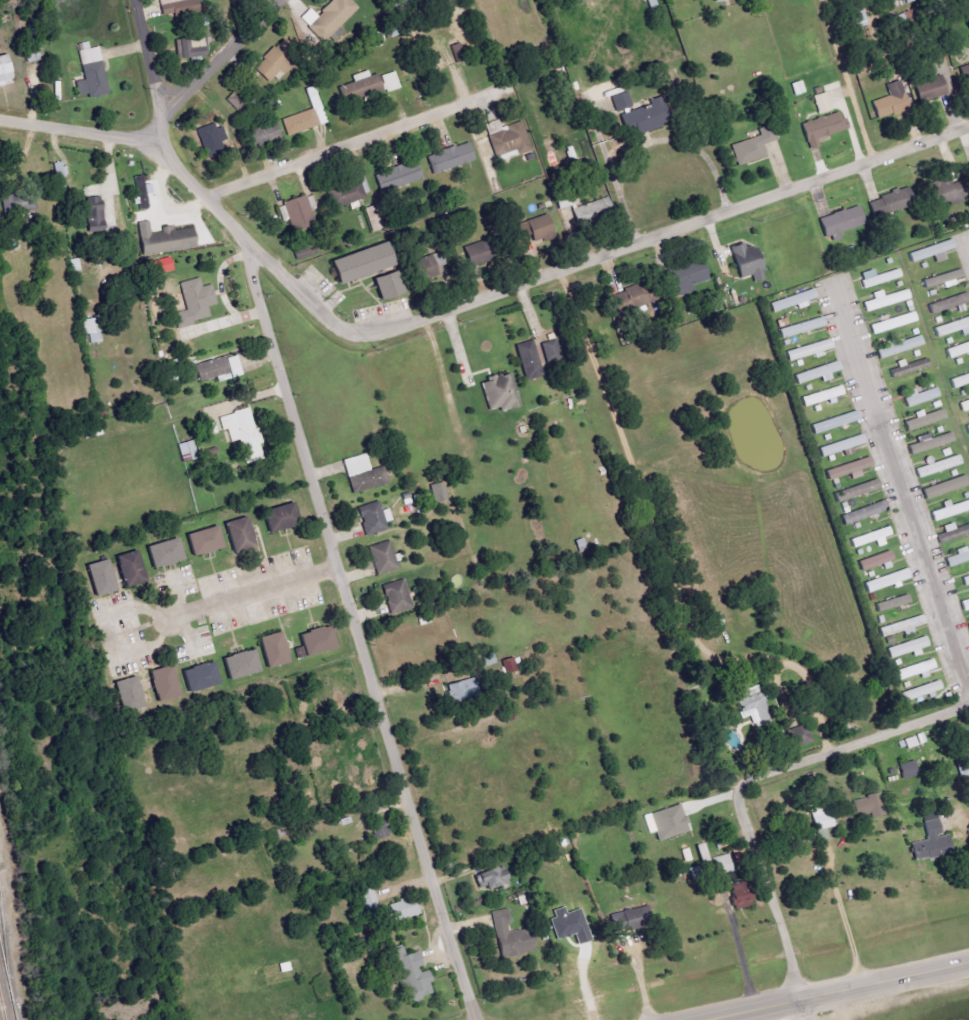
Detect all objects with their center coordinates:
building: (718, 0)
building: (651, 3)
building: (178, 7)
building: (857, 17)
building: (329, 18)
building: (336, 36)
building: (193, 48)
road: (221, 58)
building: (429, 59)
building: (273, 65)
building: (5, 69)
building: (965, 72)
road: (150, 74)
building: (90, 76)
building: (391, 81)
road: (846, 81)
building: (928, 86)
building: (360, 88)
building: (797, 88)
building: (621, 101)
building: (890, 101)
building: (822, 103)
building: (644, 119)
building: (298, 125)
building: (822, 128)
road: (77, 130)
building: (264, 135)
building: (211, 136)
building: (508, 140)
road: (647, 140)
road: (354, 143)
building: (753, 146)
building: (450, 160)
building: (60, 174)
building: (398, 176)
building: (350, 190)
building: (942, 192)
building: (142, 193)
building: (888, 198)
building: (18, 203)
building: (591, 210)
building: (296, 213)
building: (94, 215)
building: (839, 224)
building: (532, 228)
building: (164, 241)
building: (933, 252)
building: (302, 253)
building: (477, 254)
road: (590, 257)
building: (746, 263)
building: (162, 266)
building: (359, 268)
building: (425, 269)
building: (879, 277)
building: (944, 279)
building: (683, 281)
building: (387, 290)
building: (630, 299)
building: (886, 300)
building: (792, 301)
building: (949, 303)
building: (194, 306)
building: (894, 323)
building: (802, 327)
building: (953, 328)
building: (91, 330)
building: (900, 347)
building: (810, 350)
building: (549, 351)
building: (958, 351)
building: (528, 360)
building: (219, 368)
building: (909, 368)
building: (818, 373)
building: (958, 382)
building: (499, 393)
building: (823, 396)
building: (921, 396)
building: (964, 406)
building: (835, 422)
building: (921, 423)
building: (968, 427)
building: (242, 433)
building: (842, 445)
building: (929, 447)
building: (187, 451)
building: (939, 466)
building: (848, 469)
building: (368, 480)
building: (945, 487)
building: (856, 491)
road: (901, 496)
road: (643, 499)
building: (950, 511)
building: (862, 513)
building: (371, 521)
building: (279, 522)
building: (953, 534)
building: (238, 535)
building: (870, 537)
building: (202, 541)
building: (163, 553)
building: (958, 557)
building: (381, 560)
building: (875, 560)
road: (338, 567)
building: (128, 569)
building: (99, 578)
building: (886, 581)
building: (966, 581)
road: (251, 592)
building: (395, 599)
building: (892, 603)
building: (965, 604)
building: (968, 625)
building: (903, 626)
road: (105, 636)
building: (315, 646)
building: (907, 648)
building: (272, 653)
building: (239, 664)
building: (508, 665)
building: (914, 671)
building: (199, 677)
building: (162, 684)
building: (457, 690)
building: (921, 691)
building: (128, 699)
building: (751, 706)
building: (799, 736)
road: (850, 744)
building: (908, 770)
building: (867, 807)
building: (822, 822)
building: (669, 823)
building: (380, 829)
road: (966, 838)
building: (931, 841)
building: (701, 853)
building: (720, 865)
building: (491, 878)
building: (740, 896)
building: (370, 898)
road: (774, 907)
building: (403, 910)
road: (842, 915)
building: (628, 923)
building: (569, 925)
building: (505, 934)
road: (737, 954)
railway: (2, 971)
building: (406, 976)
road: (638, 982)
road: (585, 983)
road: (846, 993)
railway: (5, 994)

